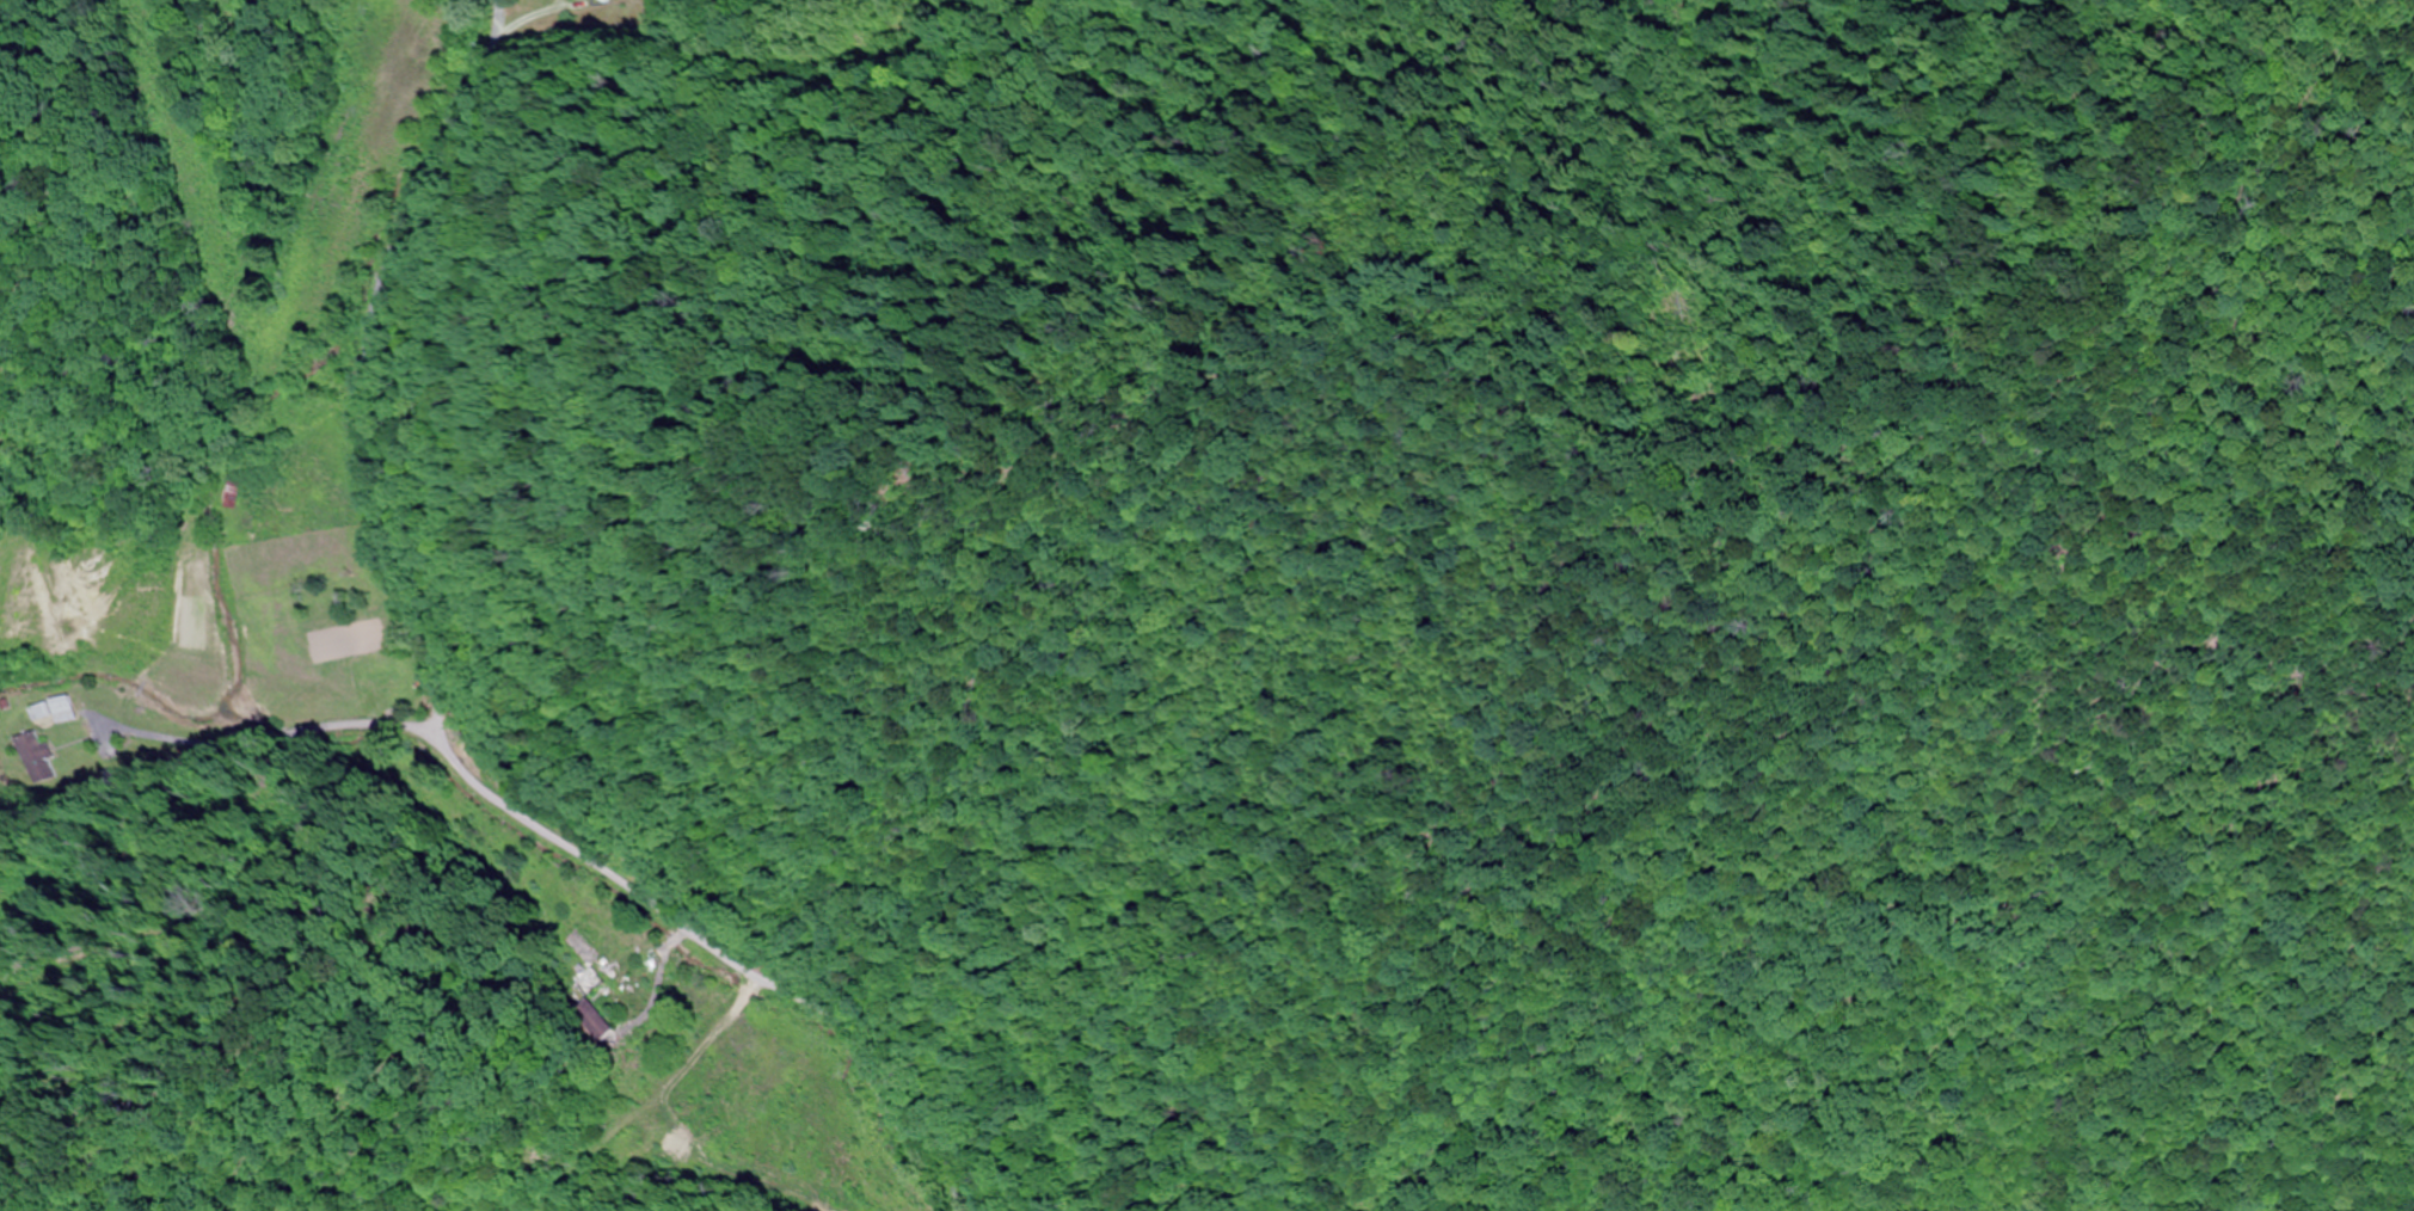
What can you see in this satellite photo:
building: (598, 1)
road: (366, 357)
building: (234, 496)
building: (164, 615)
building: (51, 712)
road: (220, 751)
building: (30, 758)
building: (577, 947)
road: (731, 958)
building: (588, 982)
building: (594, 1018)

